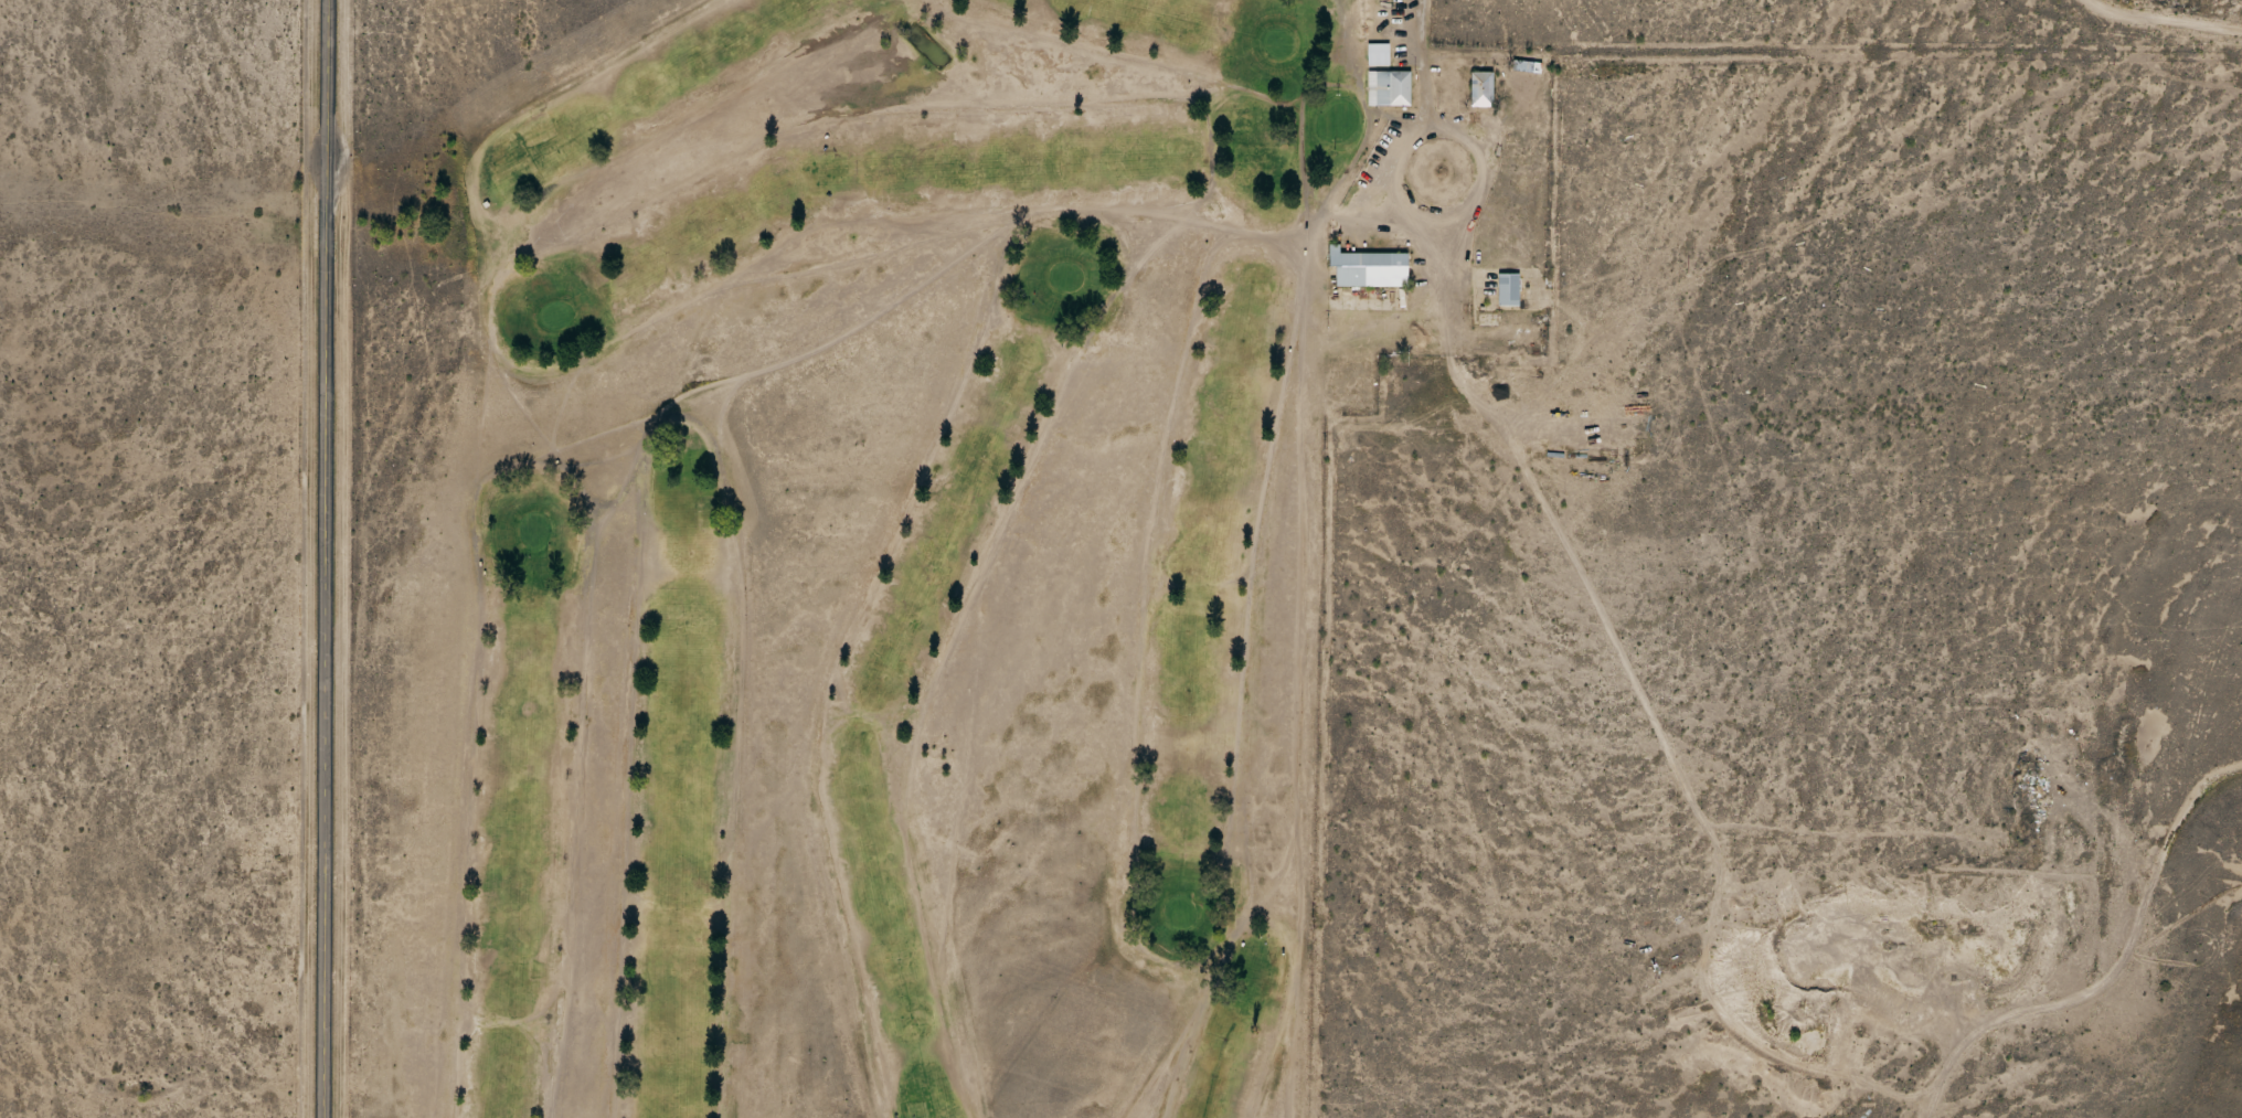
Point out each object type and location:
road: (1415, 21)
building: (1388, 88)
building: (1480, 88)
building: (1368, 268)
building: (1508, 289)
park: (872, 535)
road: (323, 558)

